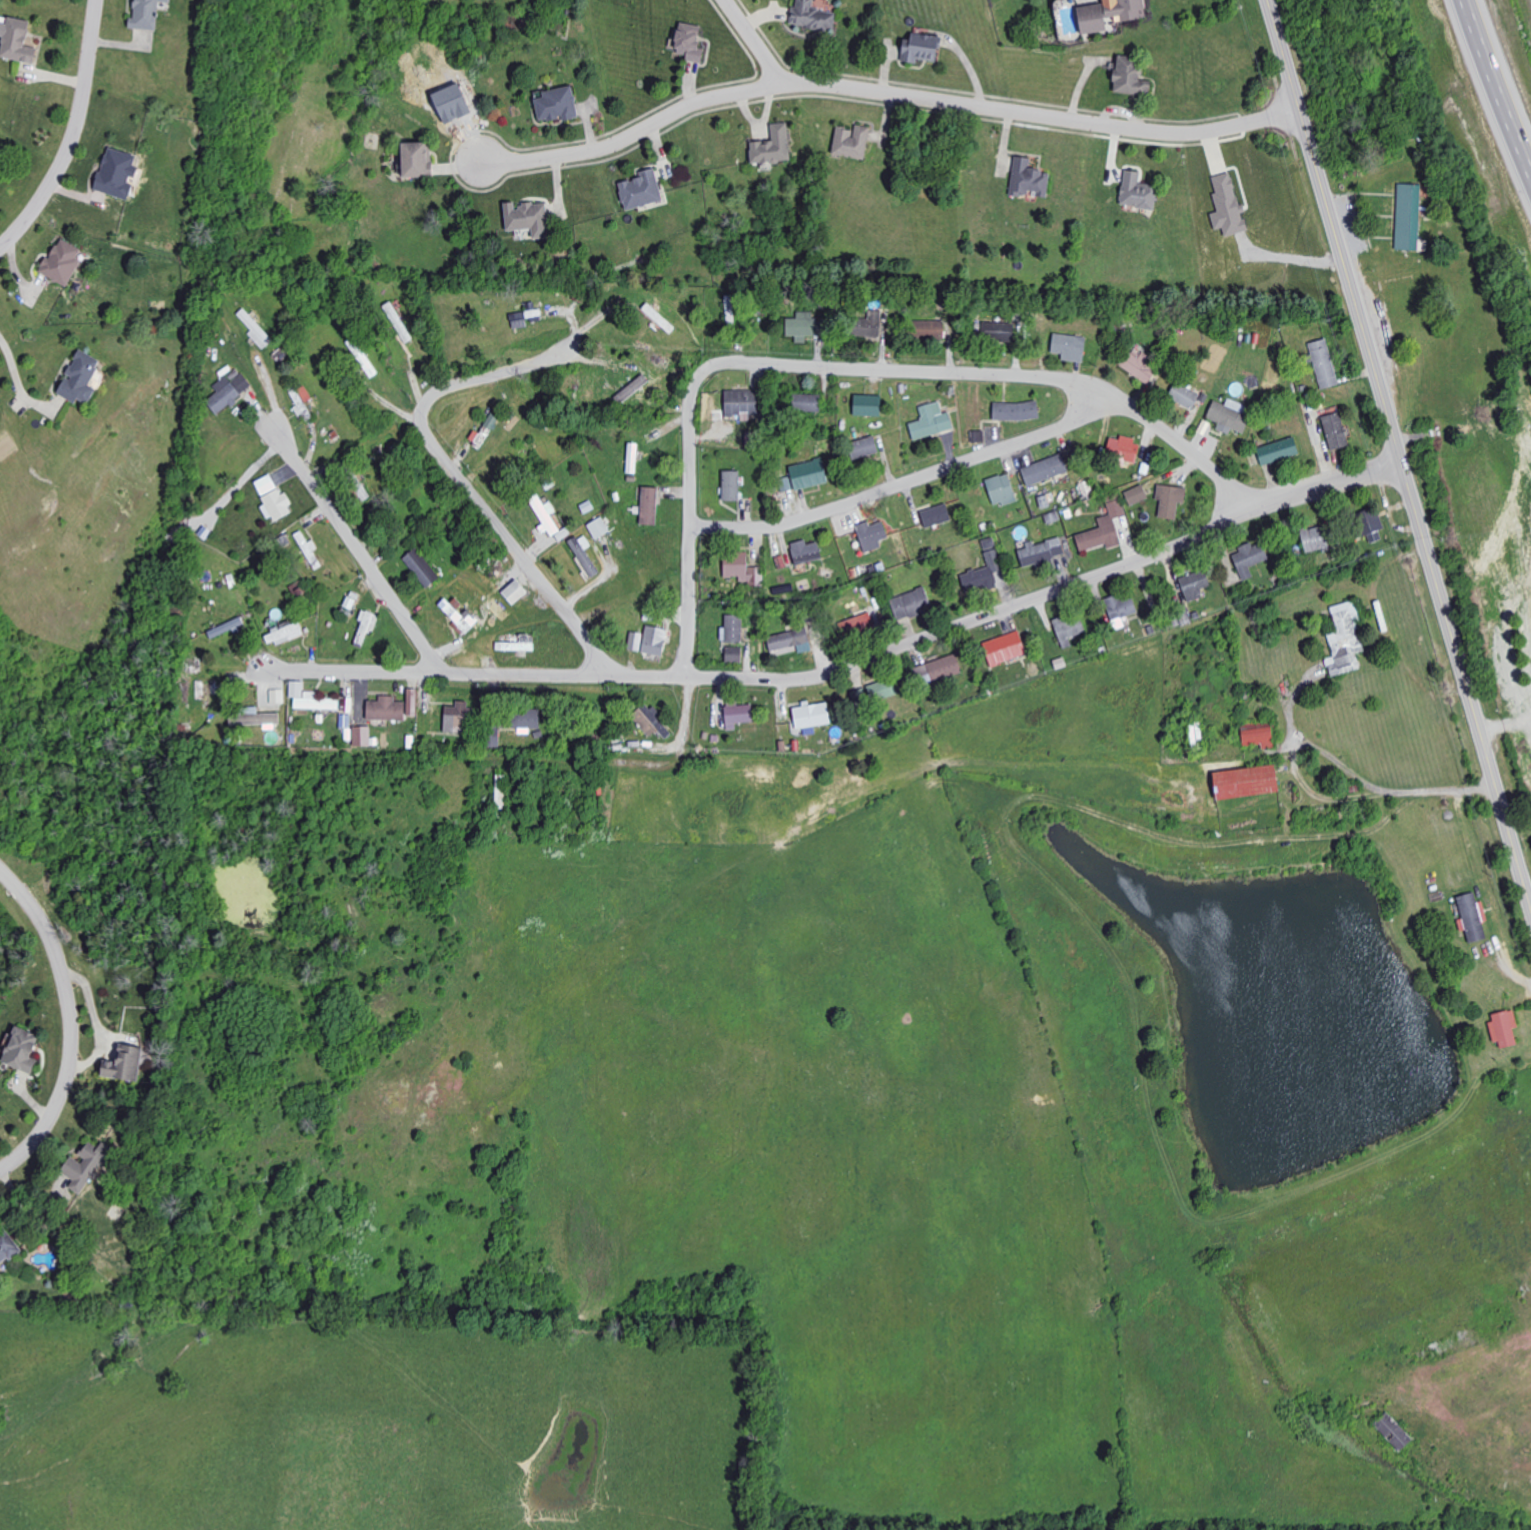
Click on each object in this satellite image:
building: (1110, 13)
building: (146, 14)
building: (812, 16)
building: (16, 39)
building: (689, 41)
road: (754, 42)
building: (921, 47)
building: (1131, 76)
road: (1494, 88)
road: (886, 95)
building: (557, 104)
road: (73, 135)
building: (852, 141)
building: (773, 145)
building: (417, 158)
building: (117, 172)
building: (1029, 178)
building: (642, 189)
building: (1138, 191)
building: (1228, 205)
building: (1409, 216)
building: (528, 218)
building: (62, 262)
building: (526, 316)
building: (659, 318)
building: (868, 324)
building: (805, 326)
building: (256, 329)
building: (929, 329)
building: (999, 330)
building: (1070, 346)
building: (1324, 363)
building: (1140, 364)
road: (18, 375)
road: (996, 377)
building: (80, 378)
building: (632, 388)
building: (228, 390)
building: (1184, 395)
building: (301, 398)
building: (741, 401)
building: (808, 402)
building: (868, 405)
building: (1017, 411)
building: (1228, 418)
building: (932, 421)
building: (1336, 430)
building: (484, 431)
building: (978, 436)
building: (864, 447)
building: (1124, 448)
building: (1279, 450)
road: (1399, 453)
building: (633, 458)
building: (1045, 469)
building: (809, 473)
road: (910, 481)
building: (266, 484)
road: (689, 484)
building: (786, 484)
building: (731, 485)
building: (1001, 488)
road: (469, 492)
building: (1137, 495)
building: (1170, 500)
building: (277, 504)
building: (649, 505)
building: (587, 506)
building: (545, 513)
building: (937, 515)
building: (1372, 525)
building: (599, 527)
building: (1105, 528)
building: (563, 534)
building: (872, 535)
building: (1316, 538)
building: (806, 551)
building: (1042, 551)
road: (360, 552)
building: (584, 554)
building: (1250, 558)
building: (421, 567)
building: (740, 567)
building: (984, 571)
building: (1195, 584)
building: (515, 591)
building: (912, 604)
building: (1121, 606)
building: (460, 615)
building: (860, 624)
building: (366, 626)
building: (226, 628)
building: (733, 628)
building: (1070, 628)
building: (284, 633)
building: (655, 640)
building: (791, 640)
building: (1345, 640)
building: (636, 641)
building: (516, 646)
building: (1005, 648)
building: (734, 654)
road: (849, 666)
building: (938, 670)
building: (882, 690)
building: (277, 696)
building: (316, 701)
building: (392, 708)
building: (813, 714)
building: (738, 715)
building: (256, 716)
building: (457, 717)
building: (527, 719)
building: (651, 721)
building: (1259, 735)
building: (362, 736)
building: (494, 737)
road: (1357, 772)
building: (1247, 782)
building: (501, 791)
building: (1472, 918)
road: (72, 1023)
building: (1505, 1028)
building: (22, 1051)
building: (124, 1064)
building: (86, 1167)
building: (7, 1246)
building: (0, 1274)
building: (1394, 1432)

